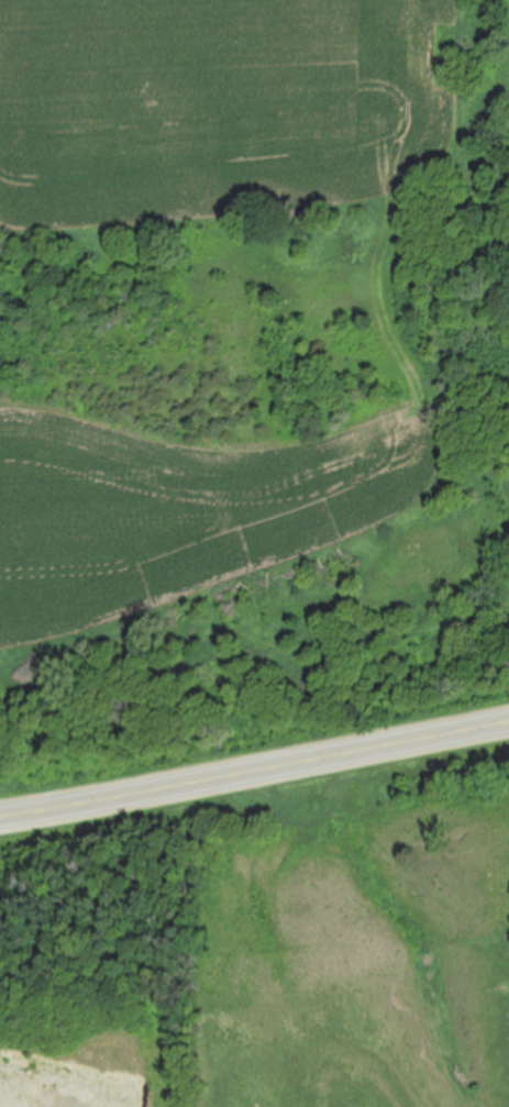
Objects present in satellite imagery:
road: (254, 771)
crop: (356, 936)
quarry: (99, 961)

